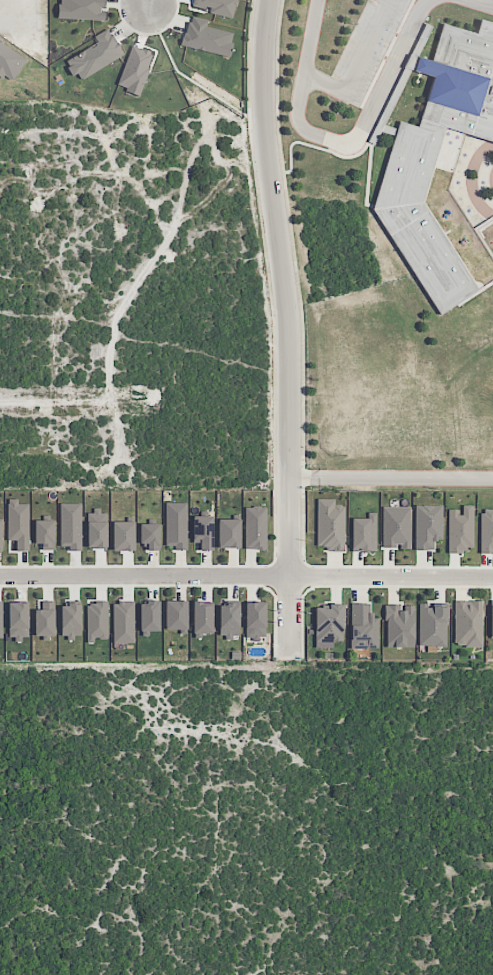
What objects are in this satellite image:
road: (148, 3)
road: (482, 3)
road: (370, 47)
parking lot: (365, 49)
road: (386, 53)
road: (396, 56)
road: (416, 64)
building: (134, 69)
road: (326, 84)
building: (401, 84)
road: (373, 137)
road: (341, 142)
road: (368, 175)
road: (473, 179)
building: (402, 184)
road: (136, 217)
road: (482, 227)
road: (290, 232)
road: (478, 233)
road: (471, 276)
road: (476, 292)
road: (177, 303)
road: (288, 328)
road: (273, 375)
road: (92, 398)
road: (302, 477)
road: (391, 478)
building: (18, 523)
building: (330, 524)
building: (176, 525)
building: (427, 525)
building: (396, 526)
building: (255, 527)
building: (97, 528)
building: (460, 528)
building: (486, 530)
building: (203, 531)
building: (228, 533)
building: (364, 533)
building: (123, 535)
building: (149, 535)
building: (0, 536)
road: (361, 566)
road: (144, 576)
road: (391, 576)
building: (175, 614)
building: (18, 615)
building: (149, 615)
building: (202, 617)
building: (491, 619)
building: (44, 620)
building: (70, 620)
building: (97, 620)
building: (229, 620)
building: (255, 620)
building: (123, 621)
building: (329, 623)
building: (468, 623)
building: (431, 625)
building: (363, 626)
building: (399, 626)
road: (274, 827)

